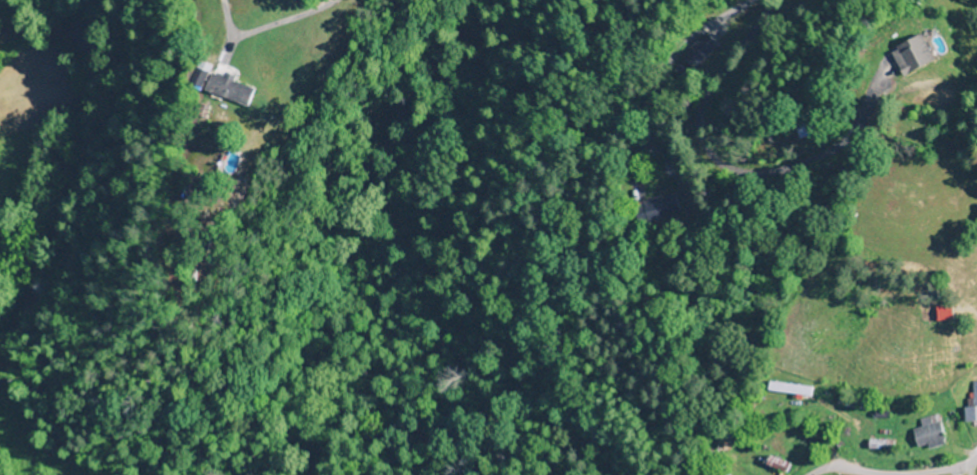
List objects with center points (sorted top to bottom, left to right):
building: (696, 50)
road: (675, 53)
building: (894, 59)
building: (213, 87)
building: (786, 126)
building: (654, 210)
building: (785, 389)
building: (970, 404)
building: (925, 434)
road: (769, 456)
road: (956, 470)
road: (838, 471)

